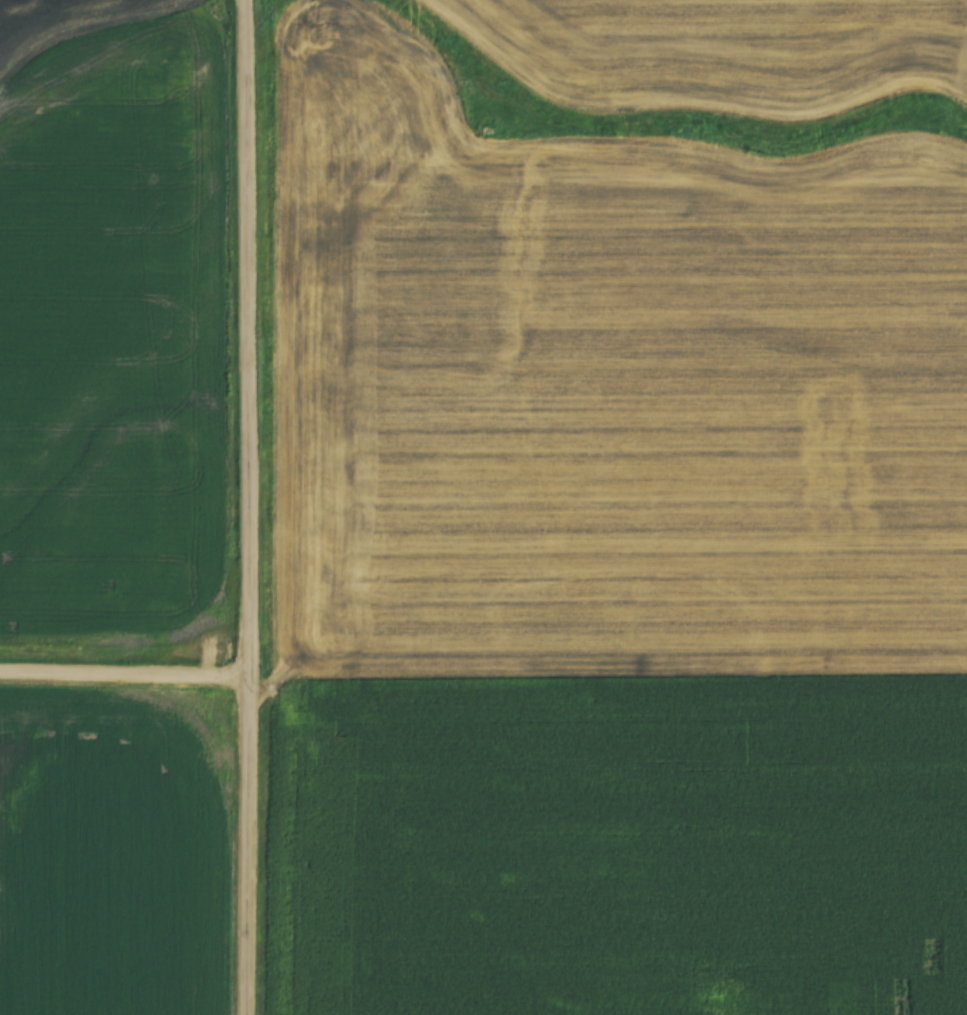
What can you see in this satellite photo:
road: (255, 507)
road: (128, 682)

